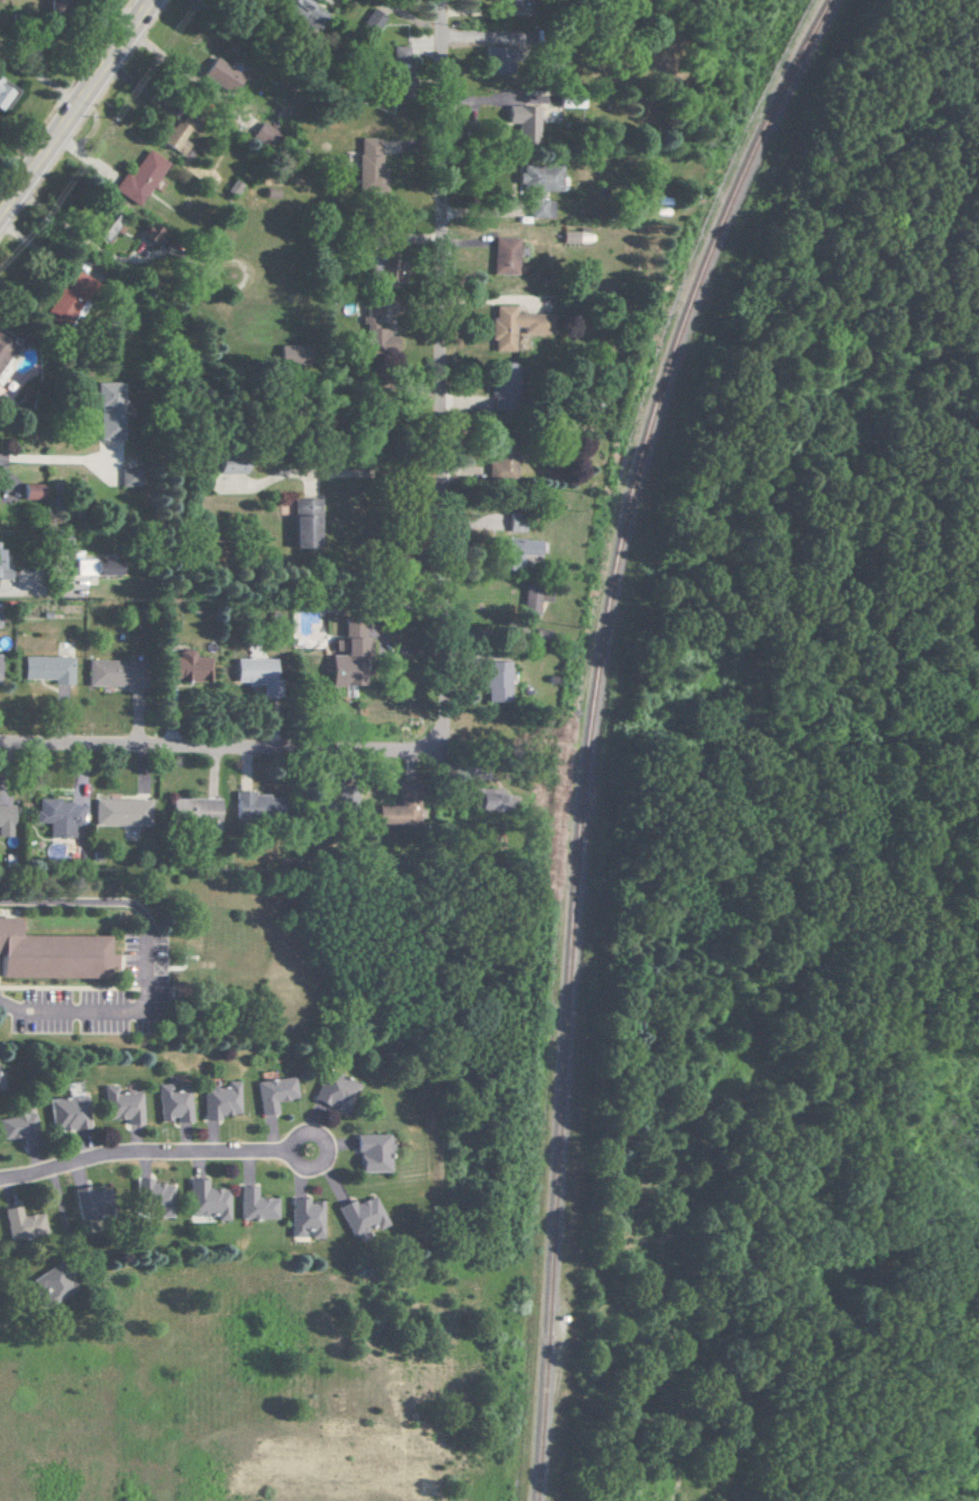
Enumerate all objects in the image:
road: (141, 5)
building: (58, 6)
building: (303, 12)
building: (372, 20)
building: (398, 57)
building: (220, 76)
building: (0, 79)
building: (3, 94)
road: (77, 108)
building: (523, 123)
building: (263, 134)
building: (174, 137)
building: (369, 164)
road: (14, 176)
building: (139, 178)
building: (538, 186)
building: (233, 187)
building: (105, 226)
road: (78, 233)
building: (570, 236)
building: (505, 256)
building: (67, 297)
building: (512, 326)
building: (5, 348)
building: (292, 354)
road: (439, 374)
building: (505, 378)
building: (110, 409)
road: (45, 458)
building: (231, 466)
building: (501, 470)
road: (332, 471)
building: (33, 491)
building: (304, 523)
building: (516, 524)
building: (64, 544)
building: (516, 552)
building: (97, 567)
building: (4, 569)
road: (34, 592)
building: (530, 601)
building: (348, 655)
building: (185, 667)
building: (47, 668)
building: (103, 672)
building: (257, 673)
building: (496, 681)
railway: (588, 729)
road: (218, 752)
building: (490, 801)
building: (256, 805)
building: (194, 810)
building: (121, 812)
building: (395, 815)
building: (59, 816)
building: (5, 820)
building: (51, 955)
road: (147, 962)
building: (272, 1093)
building: (218, 1101)
building: (170, 1104)
building: (120, 1105)
building: (66, 1113)
building: (17, 1126)
road: (153, 1151)
building: (371, 1153)
building: (152, 1196)
building: (205, 1199)
building: (89, 1200)
building: (254, 1205)
building: (359, 1215)
building: (303, 1218)
building: (21, 1223)
building: (51, 1284)

